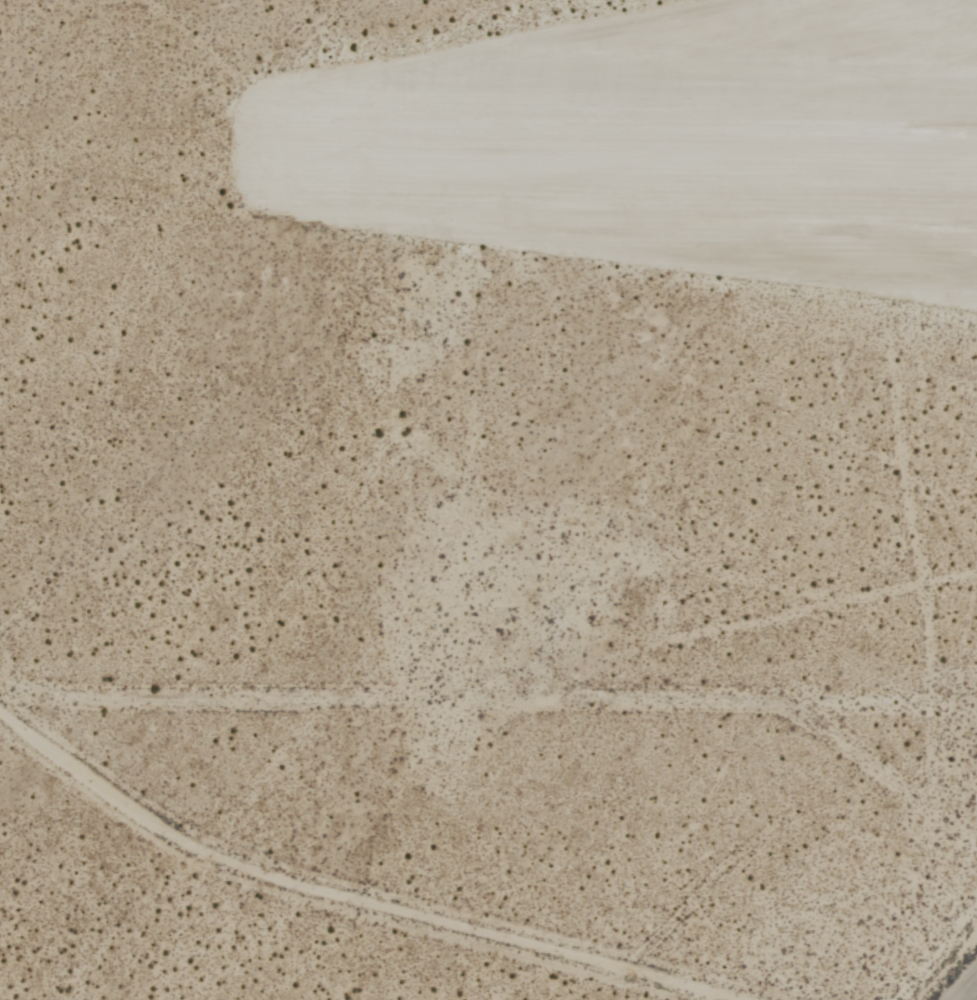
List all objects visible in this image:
airport: (488, 500)

